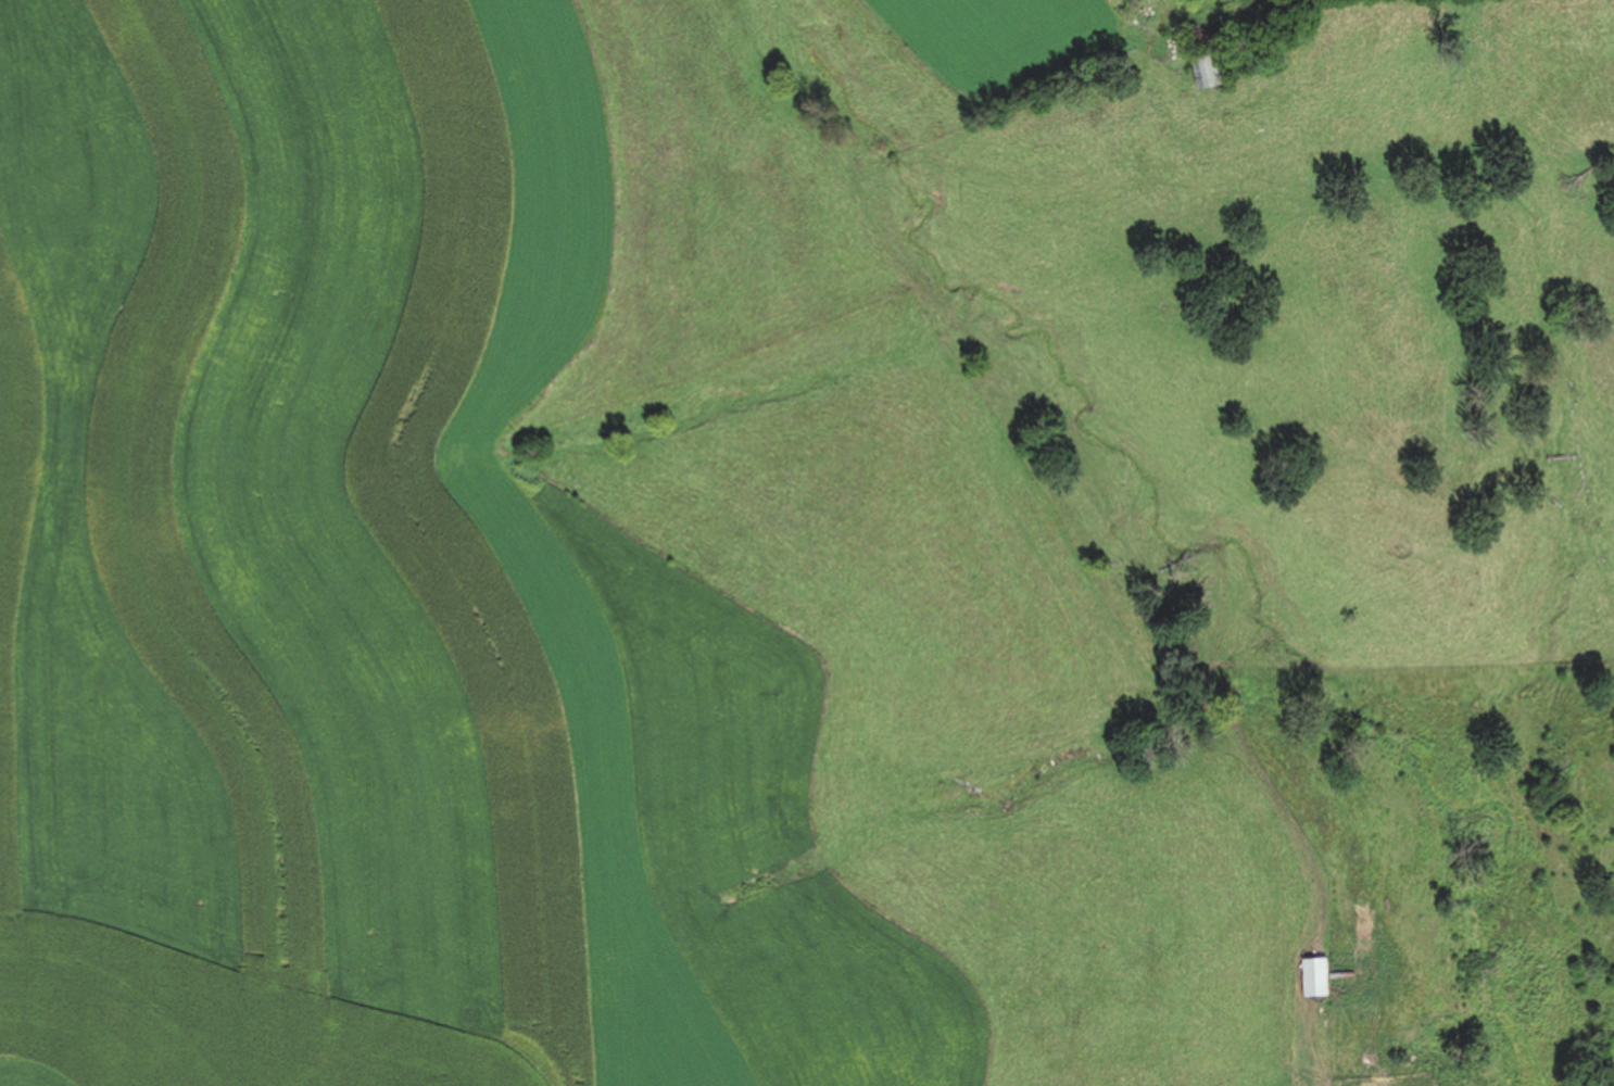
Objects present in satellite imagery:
road: (1261, 8)
building: (1206, 71)
building: (1312, 977)

